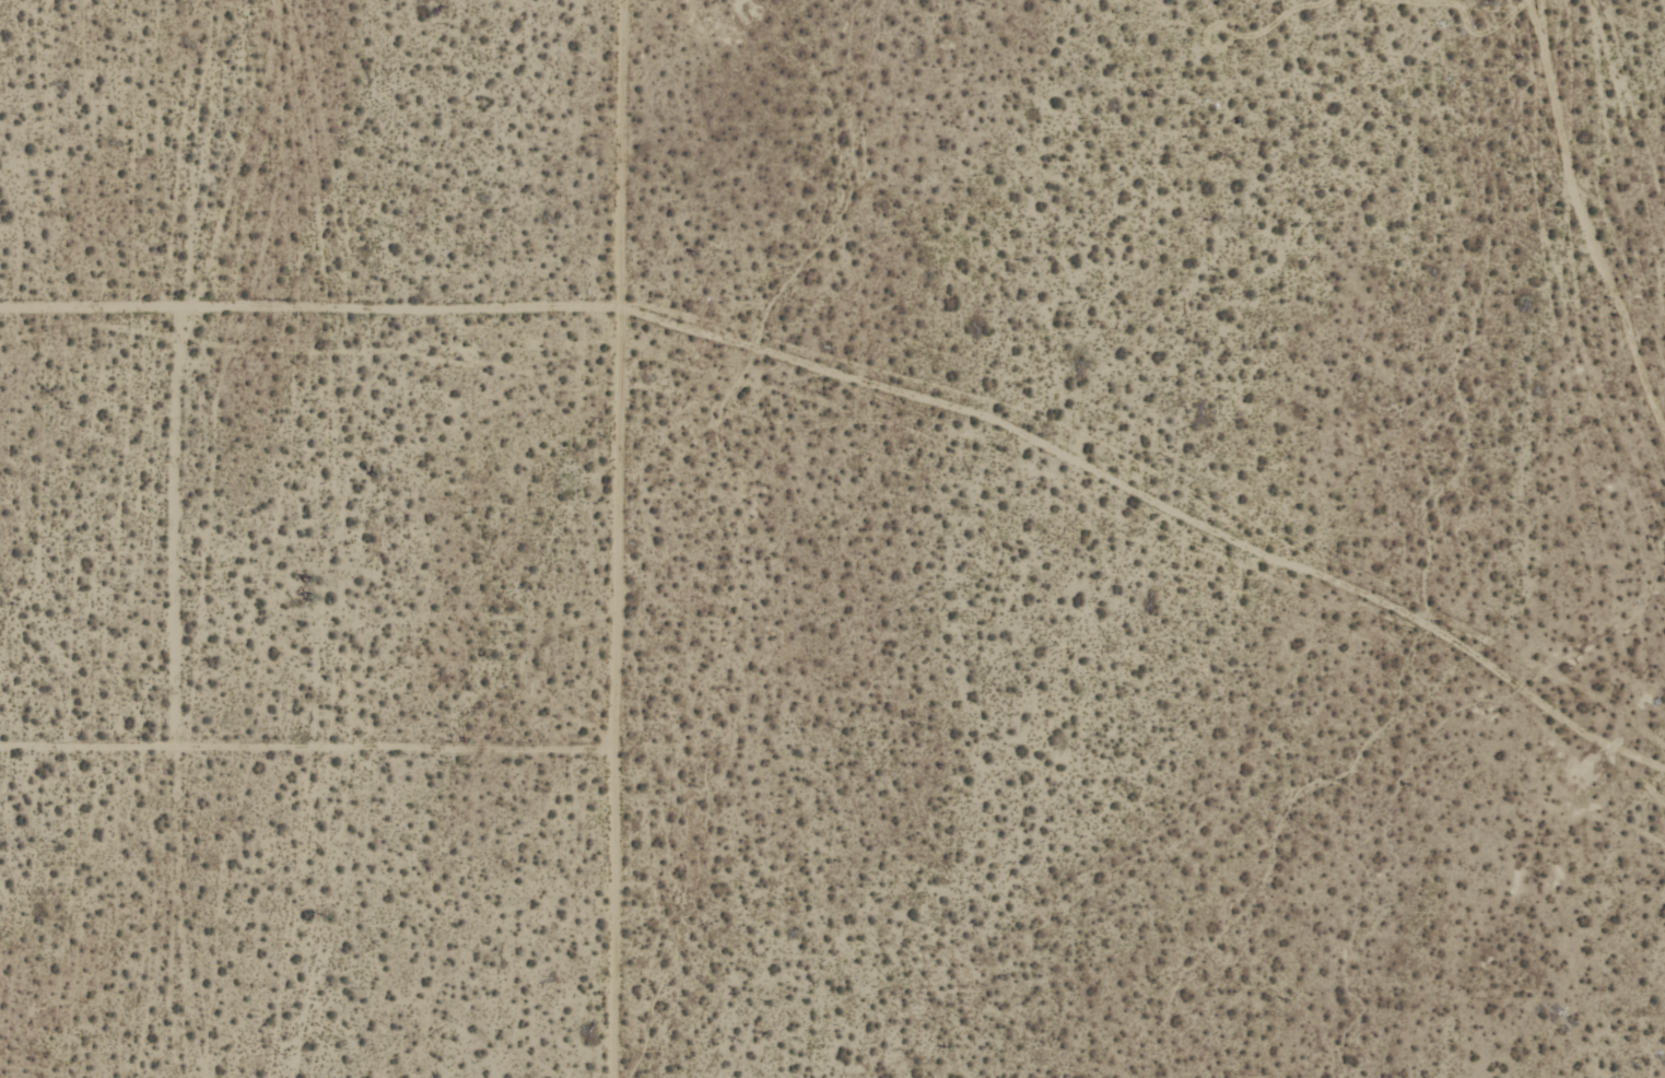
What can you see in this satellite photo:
road: (624, 254)
road: (312, 304)
road: (177, 531)
road: (614, 628)
road: (305, 754)

